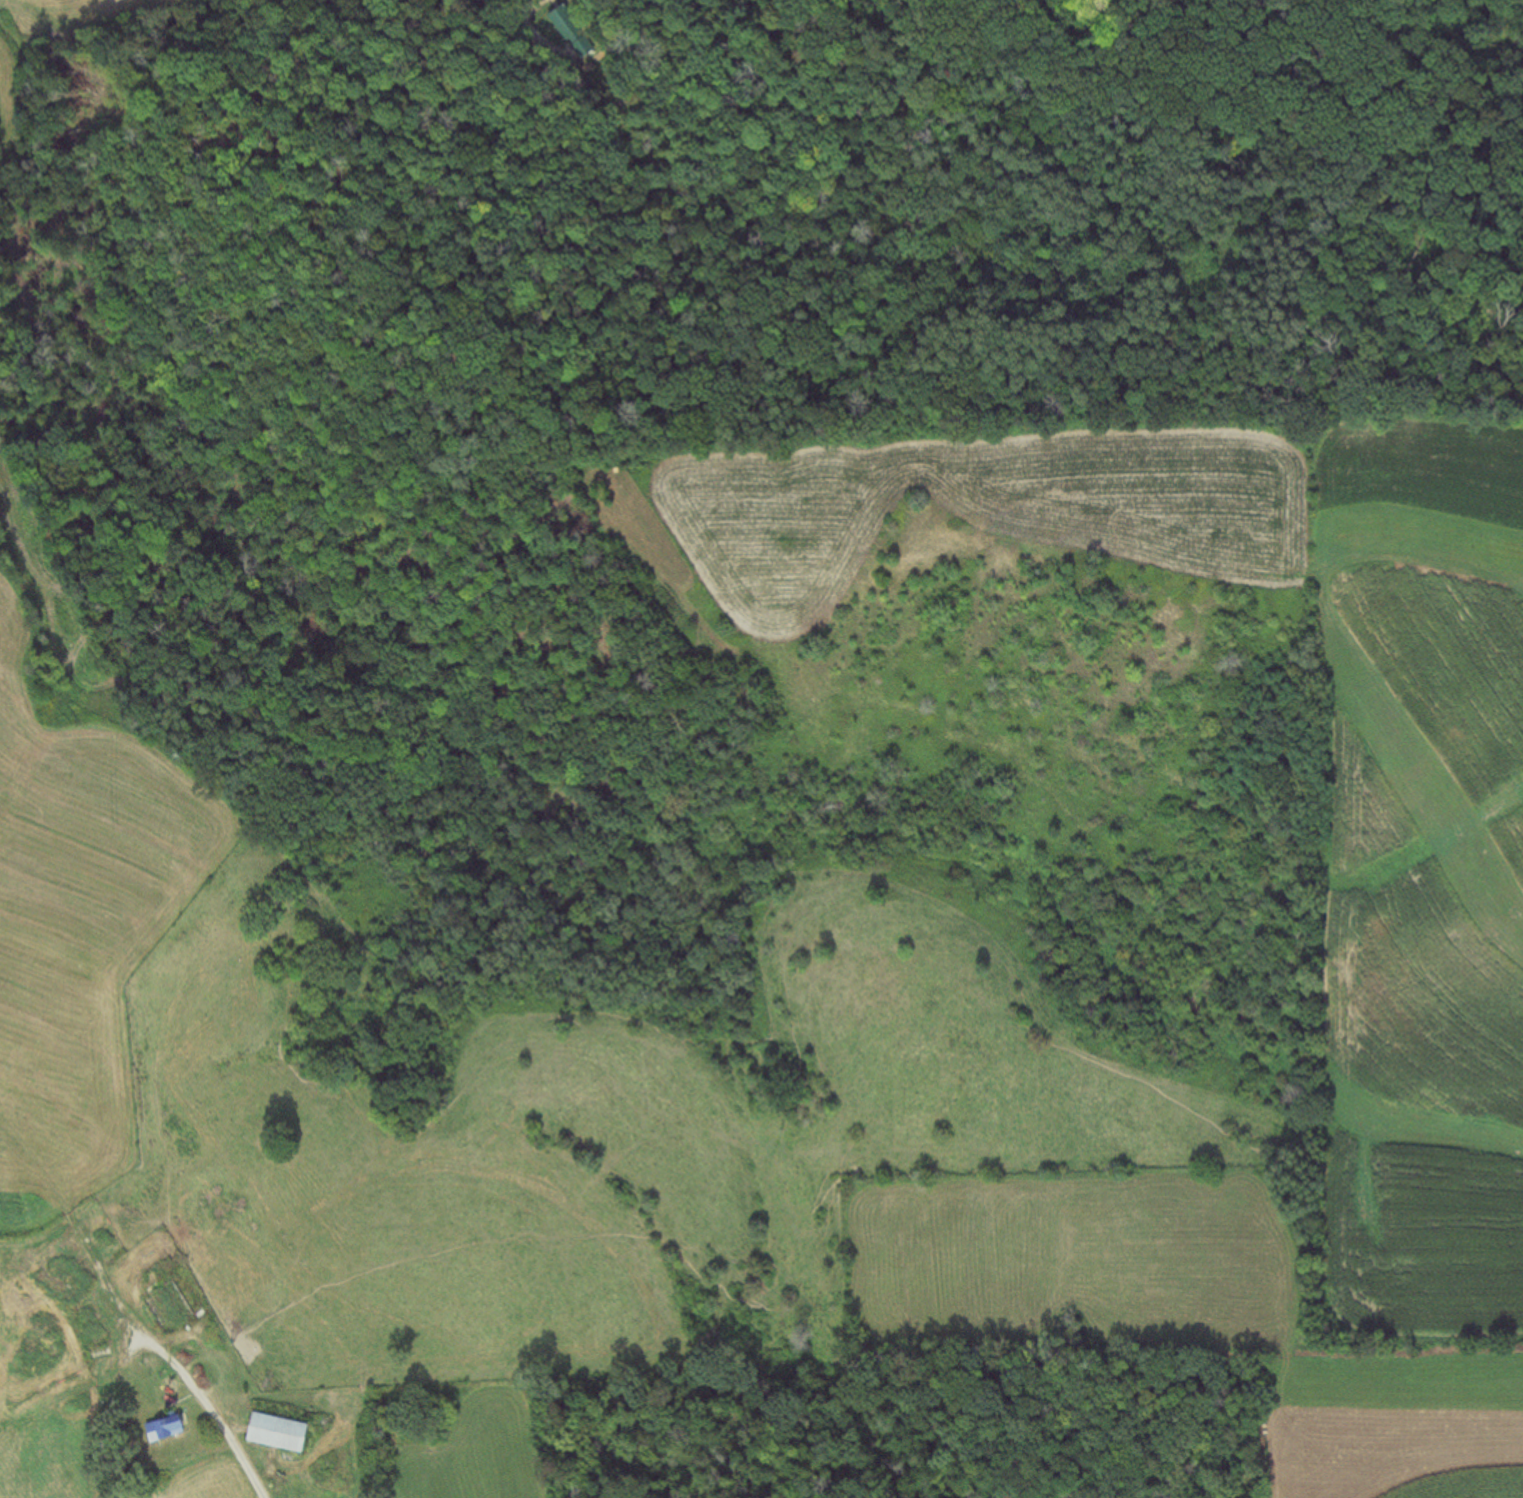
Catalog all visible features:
building: (563, 25)
building: (69, 1280)
building: (170, 1308)
building: (171, 1428)
building: (271, 1433)
road: (251, 1474)

